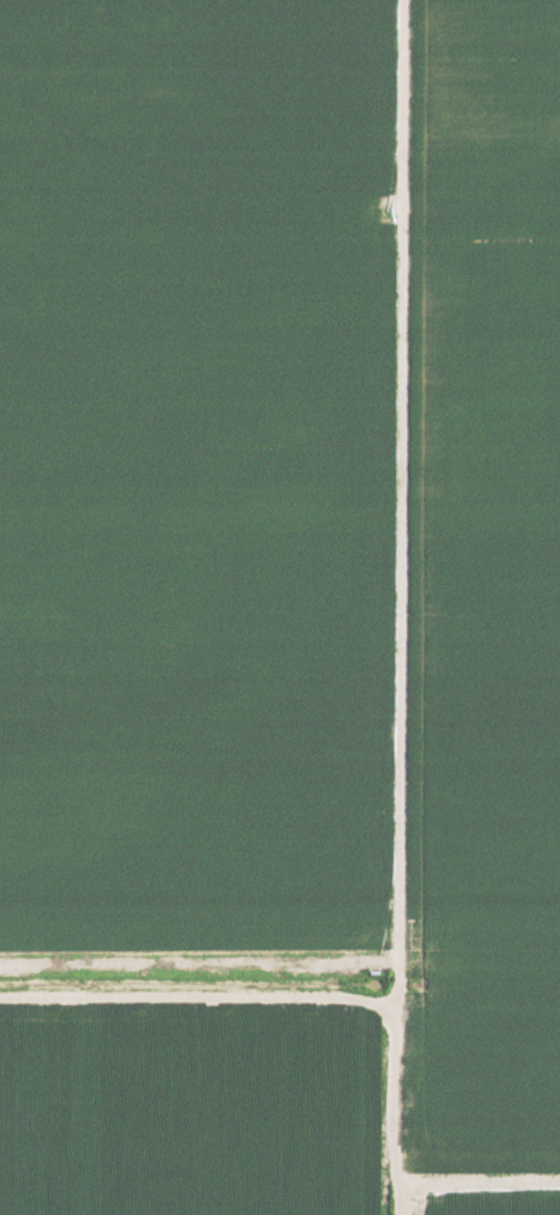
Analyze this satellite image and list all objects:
road: (395, 607)

